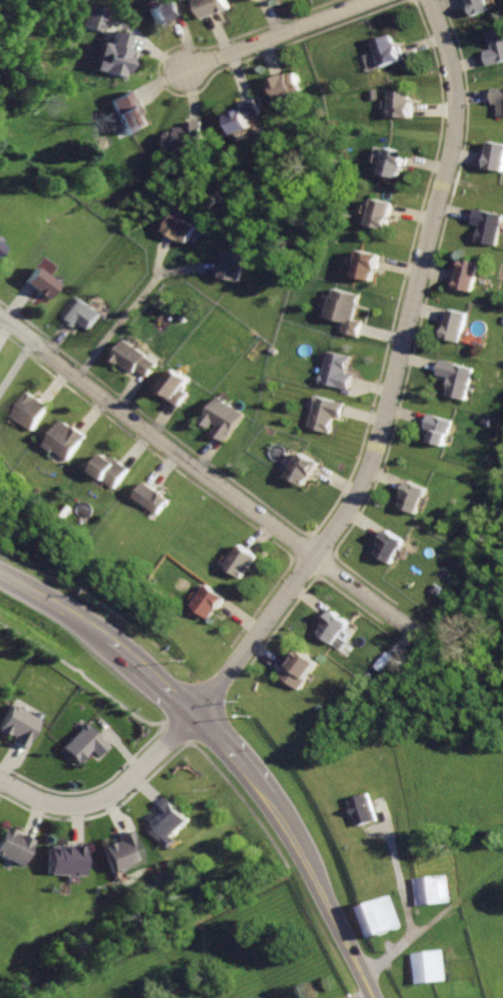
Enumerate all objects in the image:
building: (258, 1)
building: (480, 6)
building: (214, 8)
building: (165, 14)
building: (92, 17)
road: (276, 36)
building: (496, 49)
building: (388, 51)
building: (115, 55)
building: (286, 88)
building: (497, 99)
building: (400, 103)
building: (129, 114)
building: (244, 117)
building: (184, 139)
building: (494, 159)
building: (395, 164)
building: (383, 214)
building: (490, 227)
building: (180, 229)
building: (2, 248)
road: (156, 255)
building: (371, 267)
building: (234, 268)
road: (189, 269)
building: (469, 276)
building: (36, 283)
building: (347, 313)
building: (85, 315)
building: (457, 327)
road: (119, 332)
building: (141, 361)
road: (13, 362)
building: (339, 373)
road: (392, 379)
building: (460, 379)
building: (181, 390)
building: (33, 414)
building: (328, 414)
building: (227, 419)
building: (442, 430)
building: (71, 441)
building: (307, 471)
building: (116, 472)
road: (205, 477)
building: (156, 498)
building: (419, 498)
building: (393, 551)
building: (247, 562)
road: (52, 600)
building: (214, 604)
building: (335, 632)
road: (117, 645)
building: (301, 673)
road: (167, 685)
building: (21, 727)
road: (221, 737)
building: (85, 745)
road: (259, 783)
road: (112, 794)
building: (363, 811)
building: (168, 823)
crop: (461, 825)
building: (11, 846)
building: (122, 852)
building: (64, 860)
building: (436, 890)
road: (326, 900)
road: (408, 900)
building: (382, 916)
building: (433, 964)
road: (361, 996)

